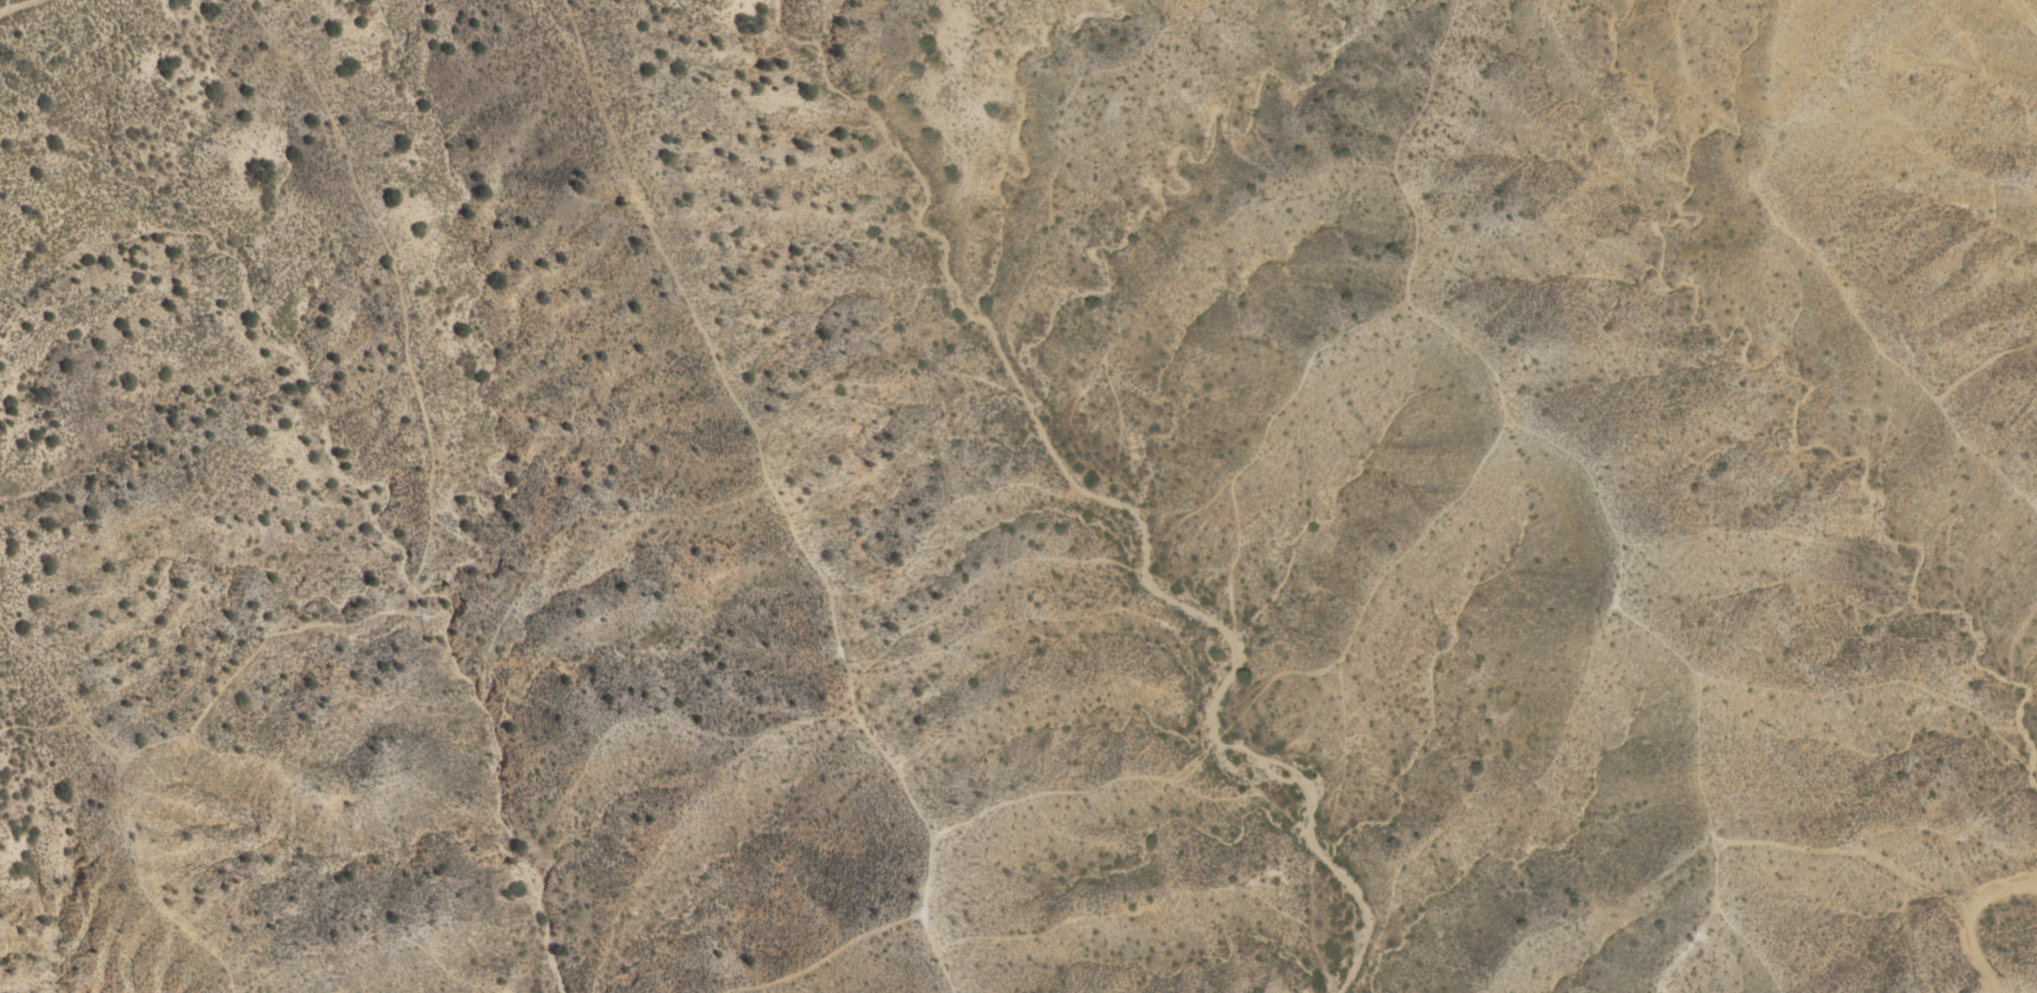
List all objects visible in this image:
road: (1974, 923)

